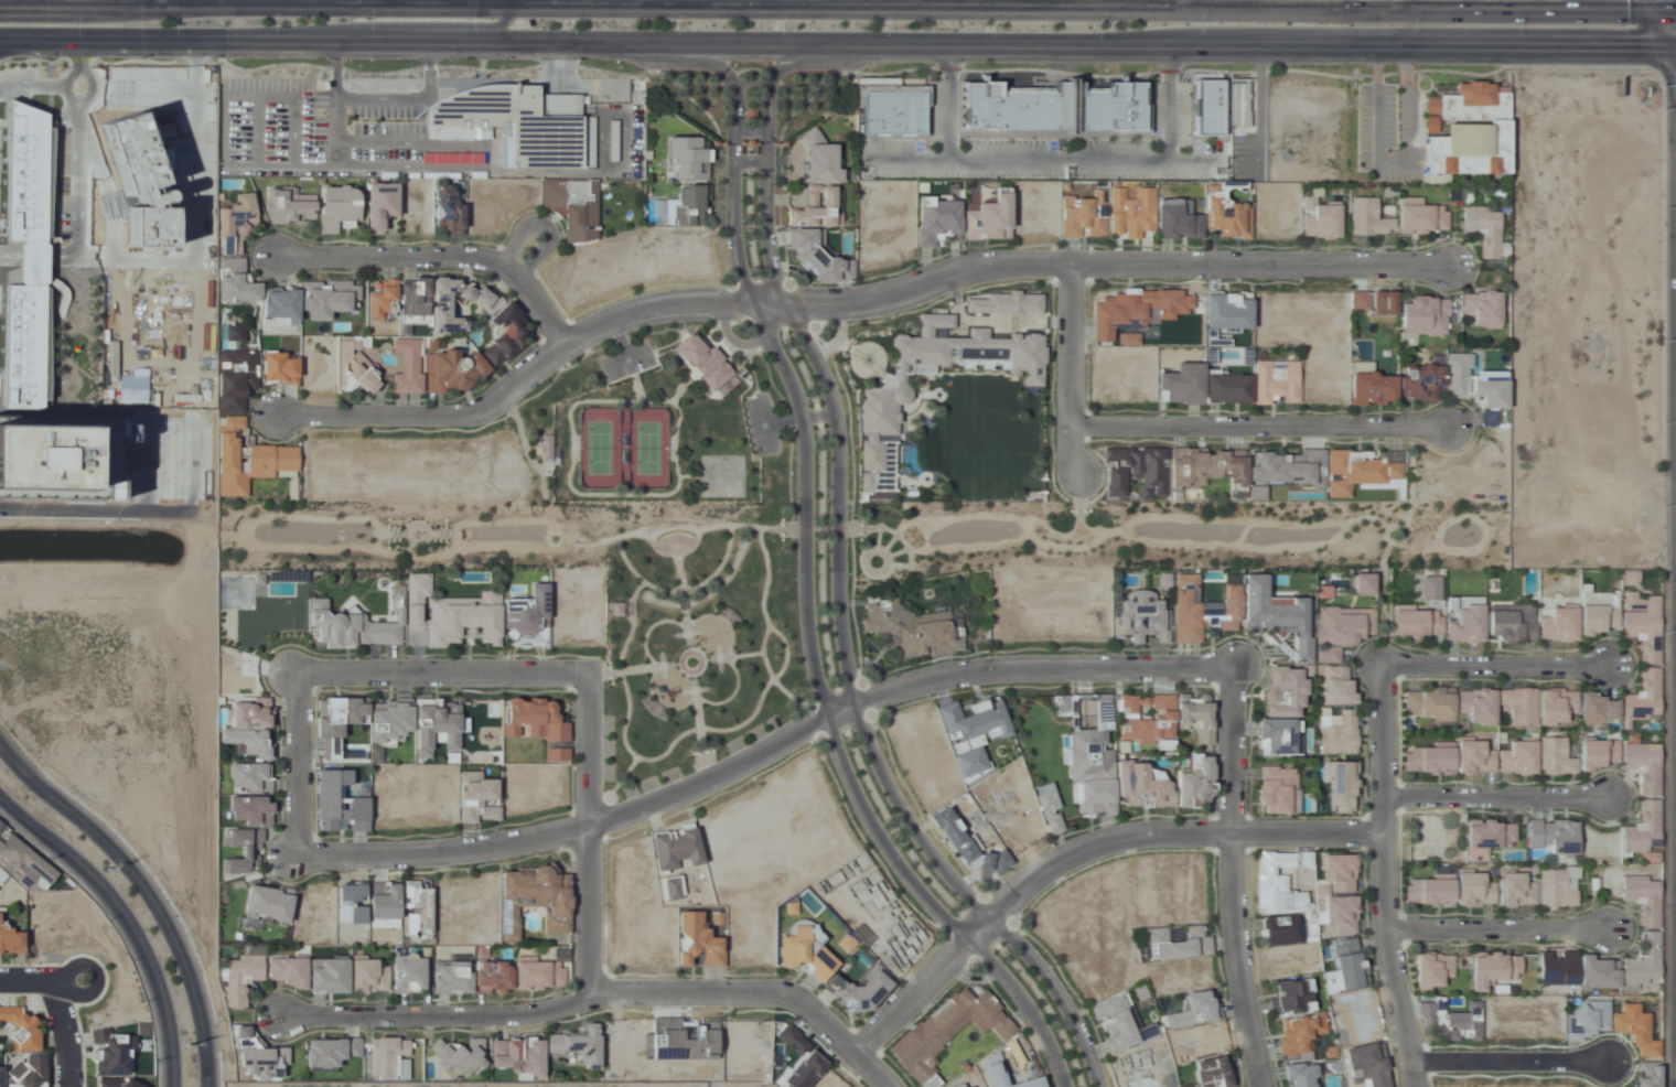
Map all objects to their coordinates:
park: (699, 644)

